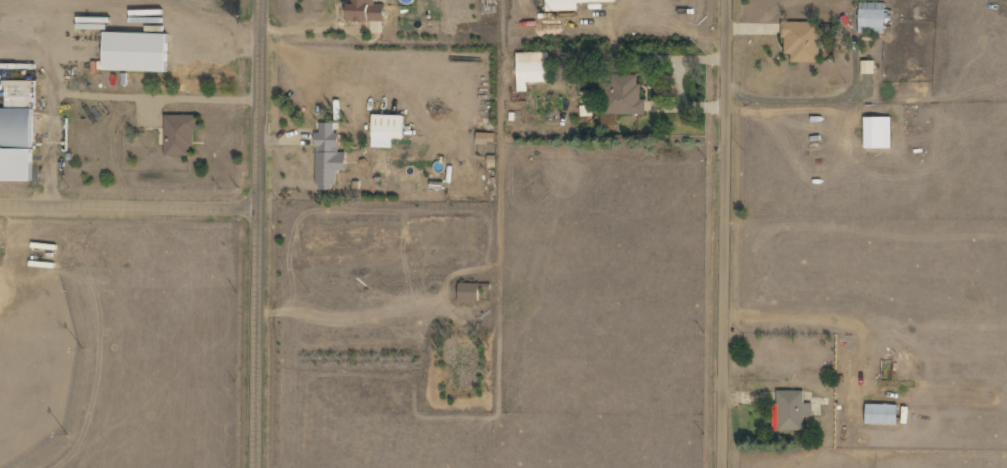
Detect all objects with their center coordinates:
building: (571, 4)
building: (367, 11)
building: (872, 18)
building: (802, 41)
building: (138, 52)
building: (868, 67)
building: (533, 69)
building: (20, 93)
building: (624, 96)
building: (388, 130)
building: (878, 133)
building: (180, 135)
building: (487, 138)
building: (17, 145)
building: (329, 157)
road: (130, 203)
road: (727, 233)
road: (259, 234)
building: (470, 292)
building: (792, 410)
building: (883, 414)

